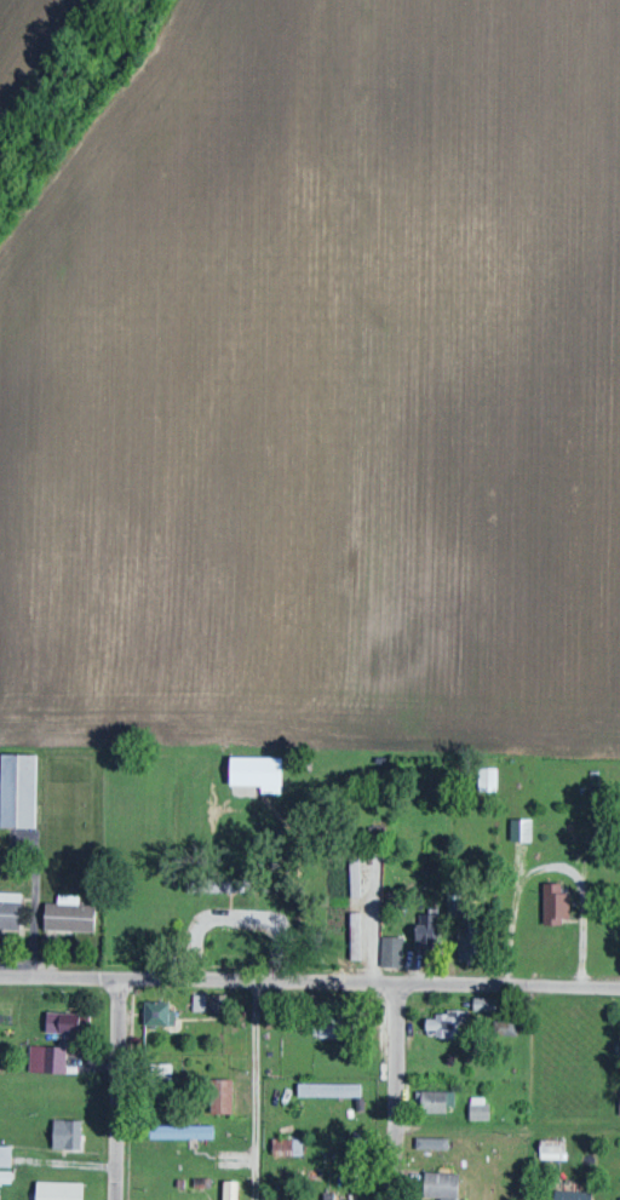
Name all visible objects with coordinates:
building: (22, 787)
building: (357, 875)
building: (558, 901)
building: (12, 911)
building: (73, 914)
building: (470, 921)
building: (430, 926)
road: (310, 981)
building: (217, 1003)
building: (162, 1010)
building: (68, 1020)
building: (449, 1021)
building: (339, 1022)
building: (50, 1055)
road: (117, 1089)
road: (397, 1091)
building: (348, 1093)
building: (447, 1097)
building: (482, 1107)
building: (69, 1130)
building: (435, 1141)
building: (555, 1146)
building: (6, 1152)
building: (446, 1183)
building: (63, 1188)
building: (576, 1193)
building: (350, 1199)

